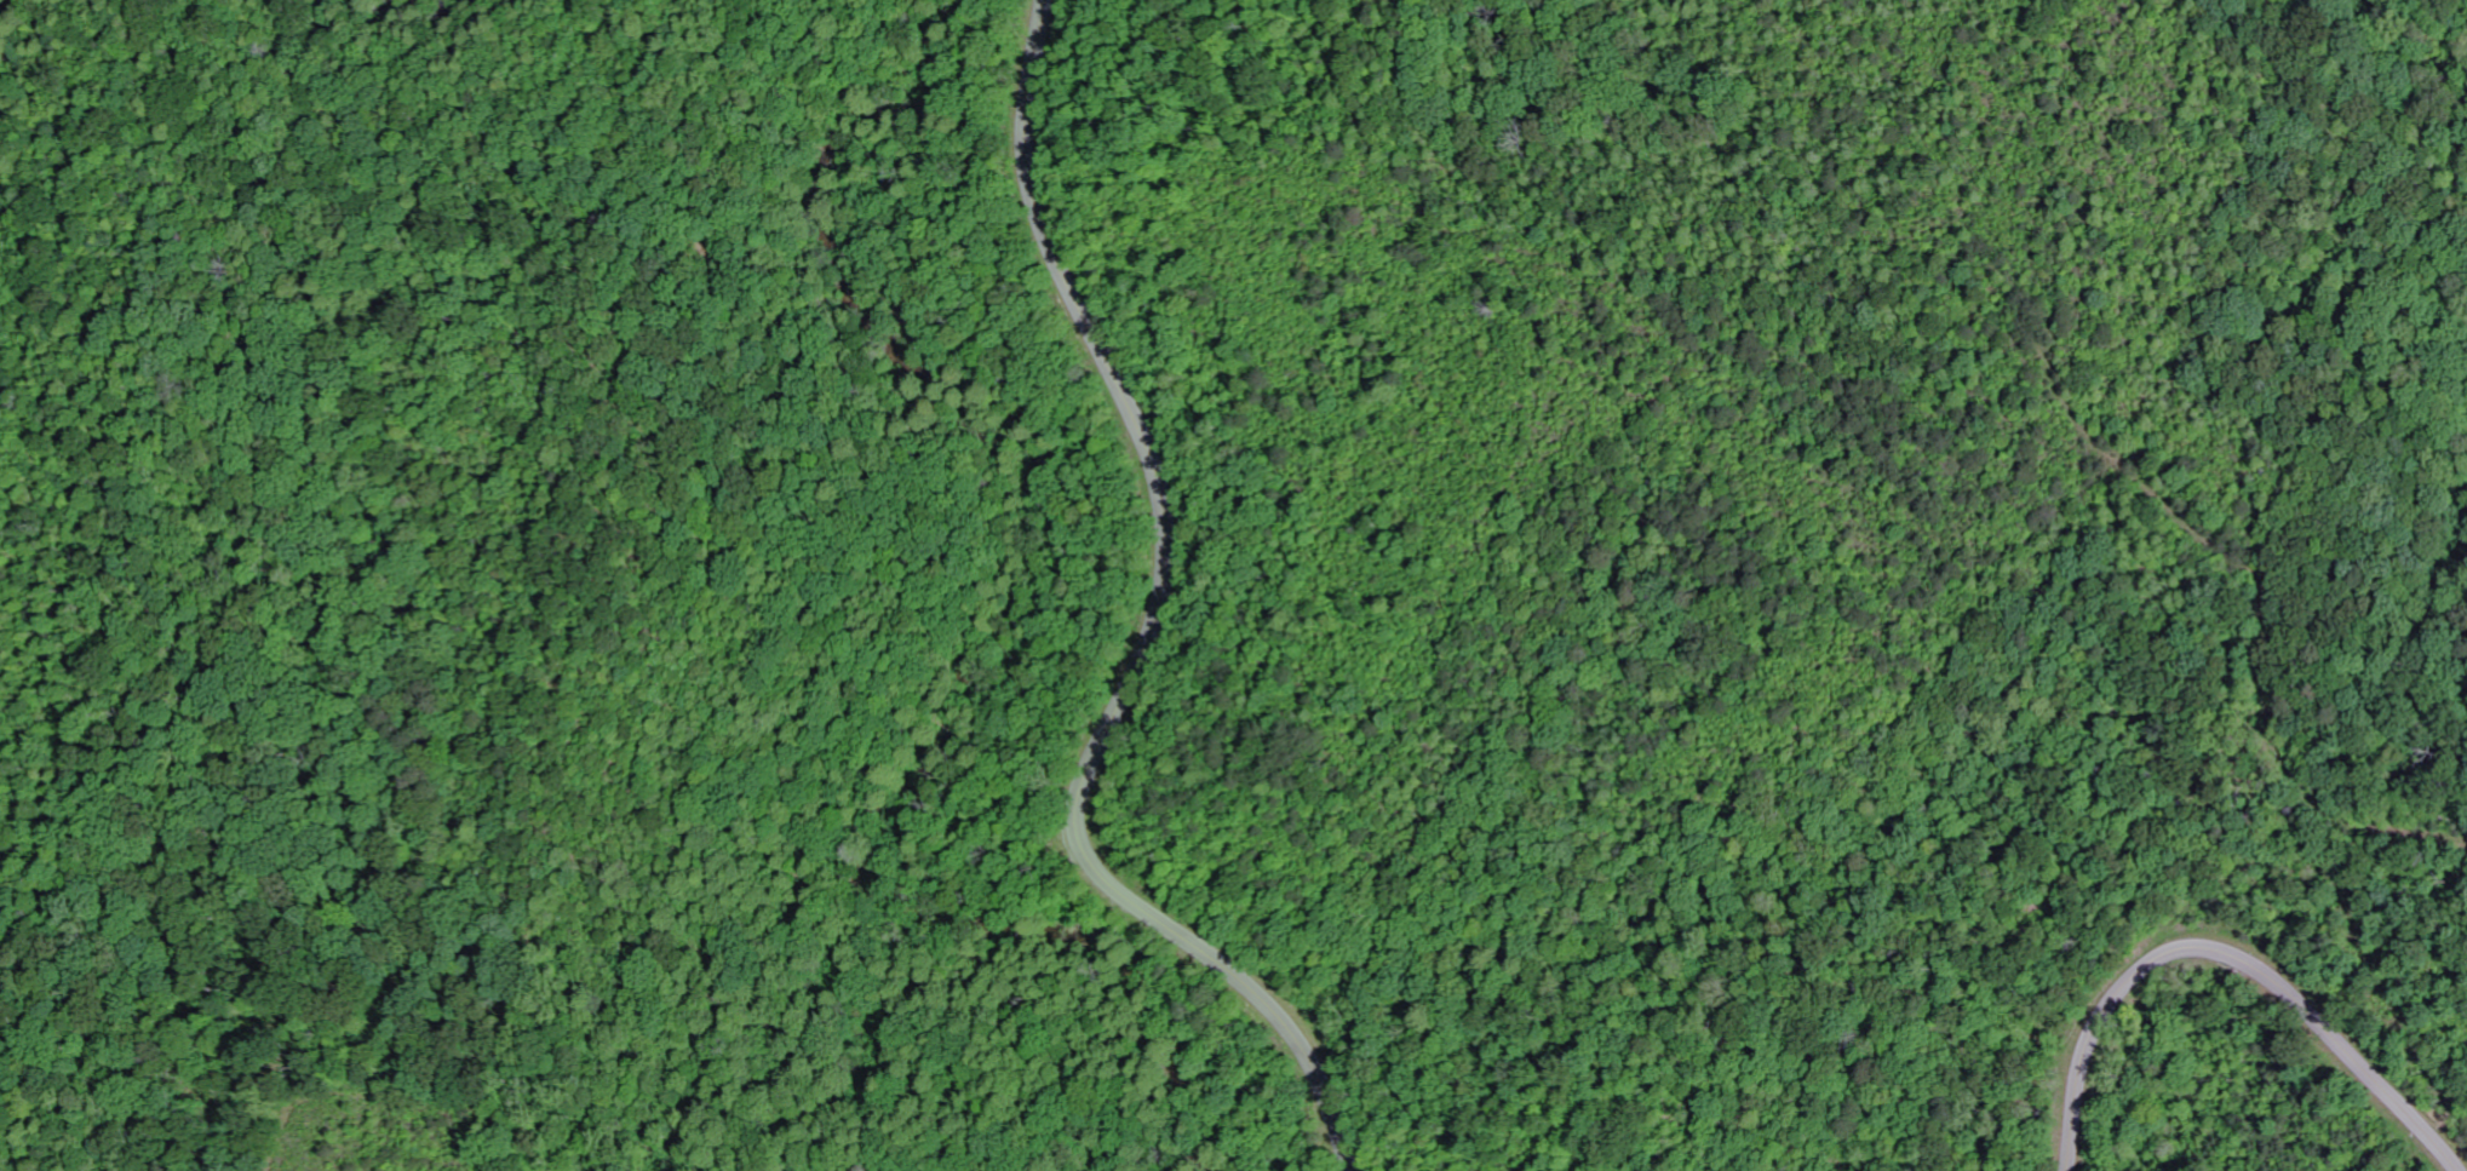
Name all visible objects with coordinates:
road: (1154, 632)
road: (2231, 957)

